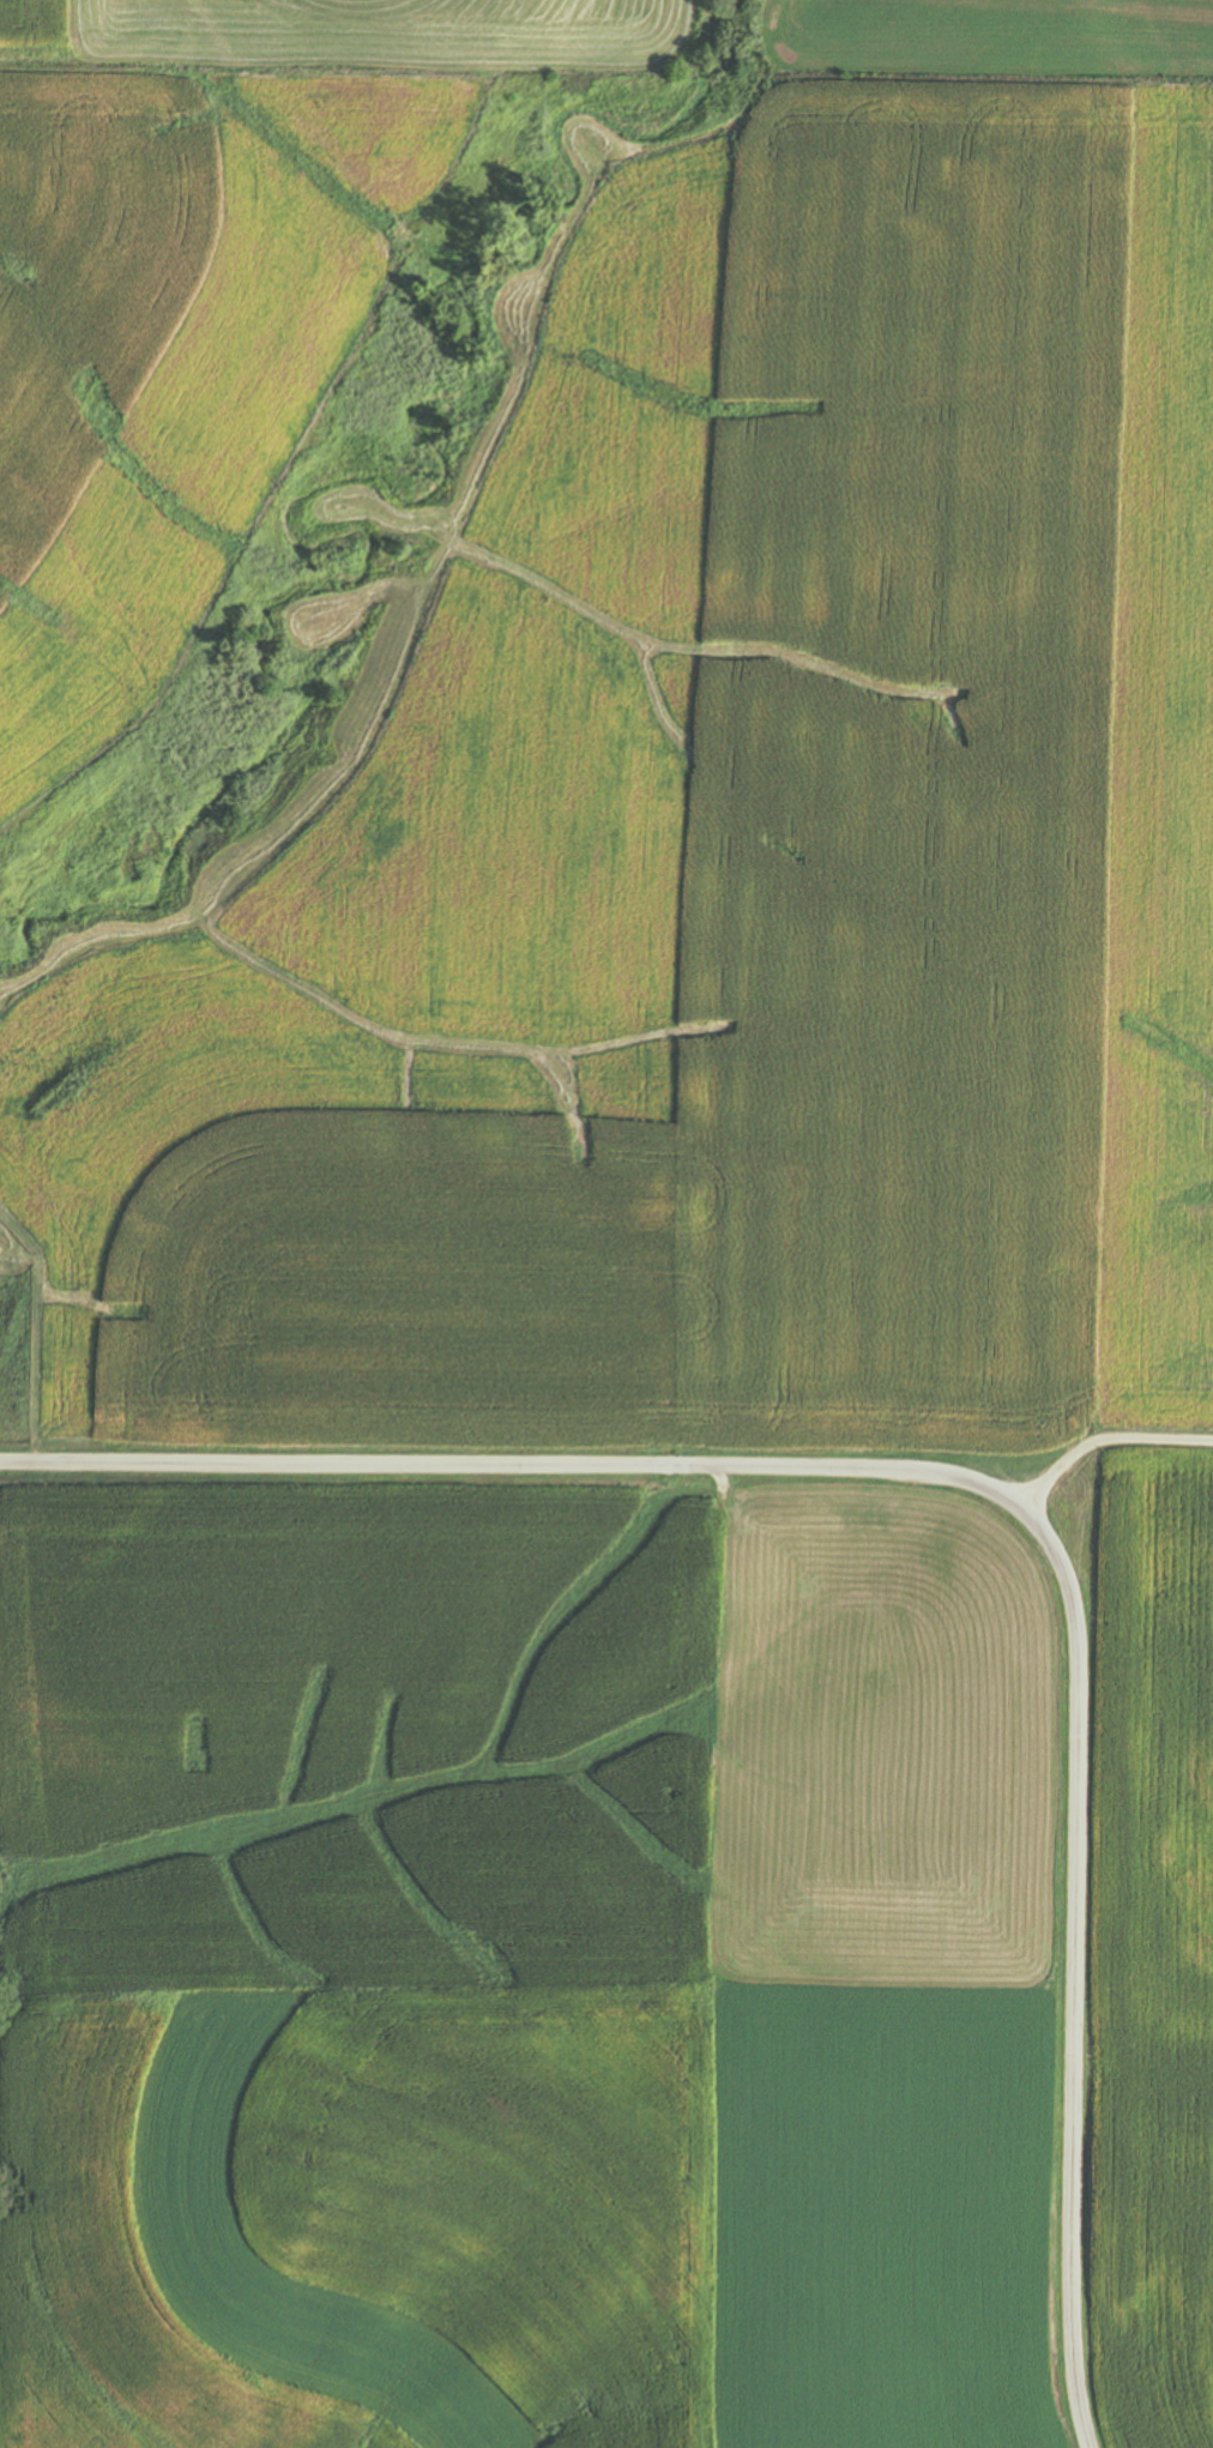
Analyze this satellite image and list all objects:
road: (1100, 1436)
road: (990, 1493)

